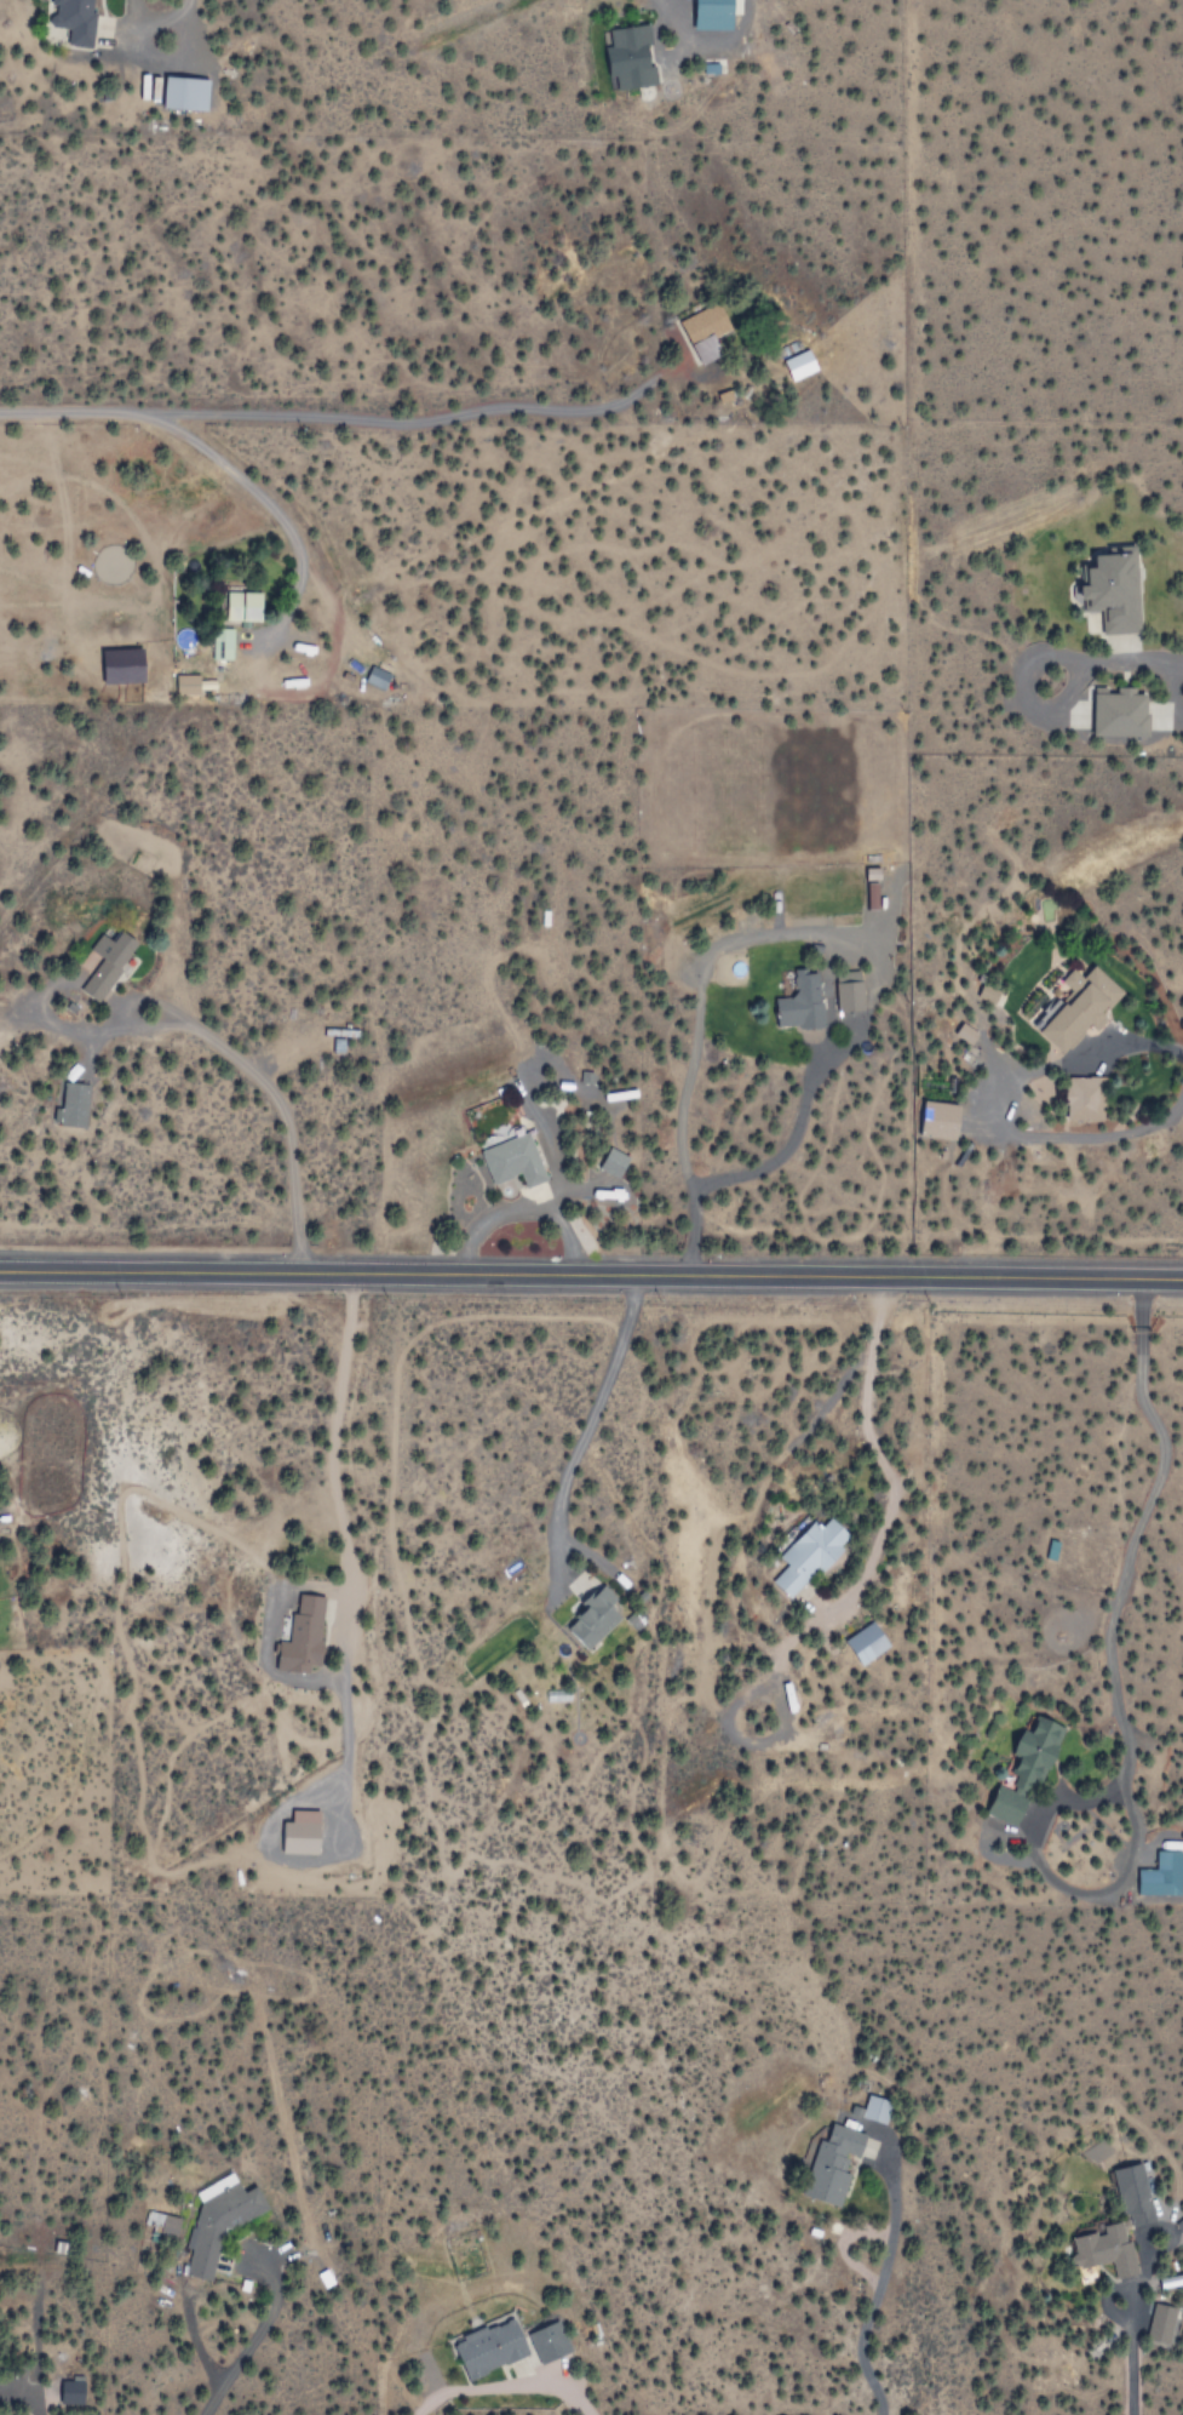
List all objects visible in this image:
building: (713, 15)
building: (76, 22)
building: (630, 58)
building: (184, 95)
building: (704, 332)
building: (799, 366)
building: (1116, 589)
building: (242, 606)
building: (224, 643)
building: (126, 665)
building: (379, 677)
building: (189, 685)
building: (1108, 711)
building: (104, 962)
building: (990, 994)
building: (851, 996)
building: (798, 1000)
building: (1079, 1007)
building: (969, 1034)
building: (1084, 1098)
building: (73, 1104)
building: (938, 1118)
road: (300, 1127)
building: (512, 1160)
building: (613, 1163)
road: (591, 1272)
building: (808, 1555)
building: (591, 1619)
building: (303, 1635)
building: (866, 1643)
building: (1024, 1766)
building: (304, 1832)
building: (1161, 1876)
building: (875, 2110)
building: (837, 2154)
building: (1137, 2194)
building: (161, 2221)
building: (217, 2222)
building: (1109, 2233)
building: (1164, 2322)
building: (549, 2345)
building: (489, 2350)
building: (70, 2393)

